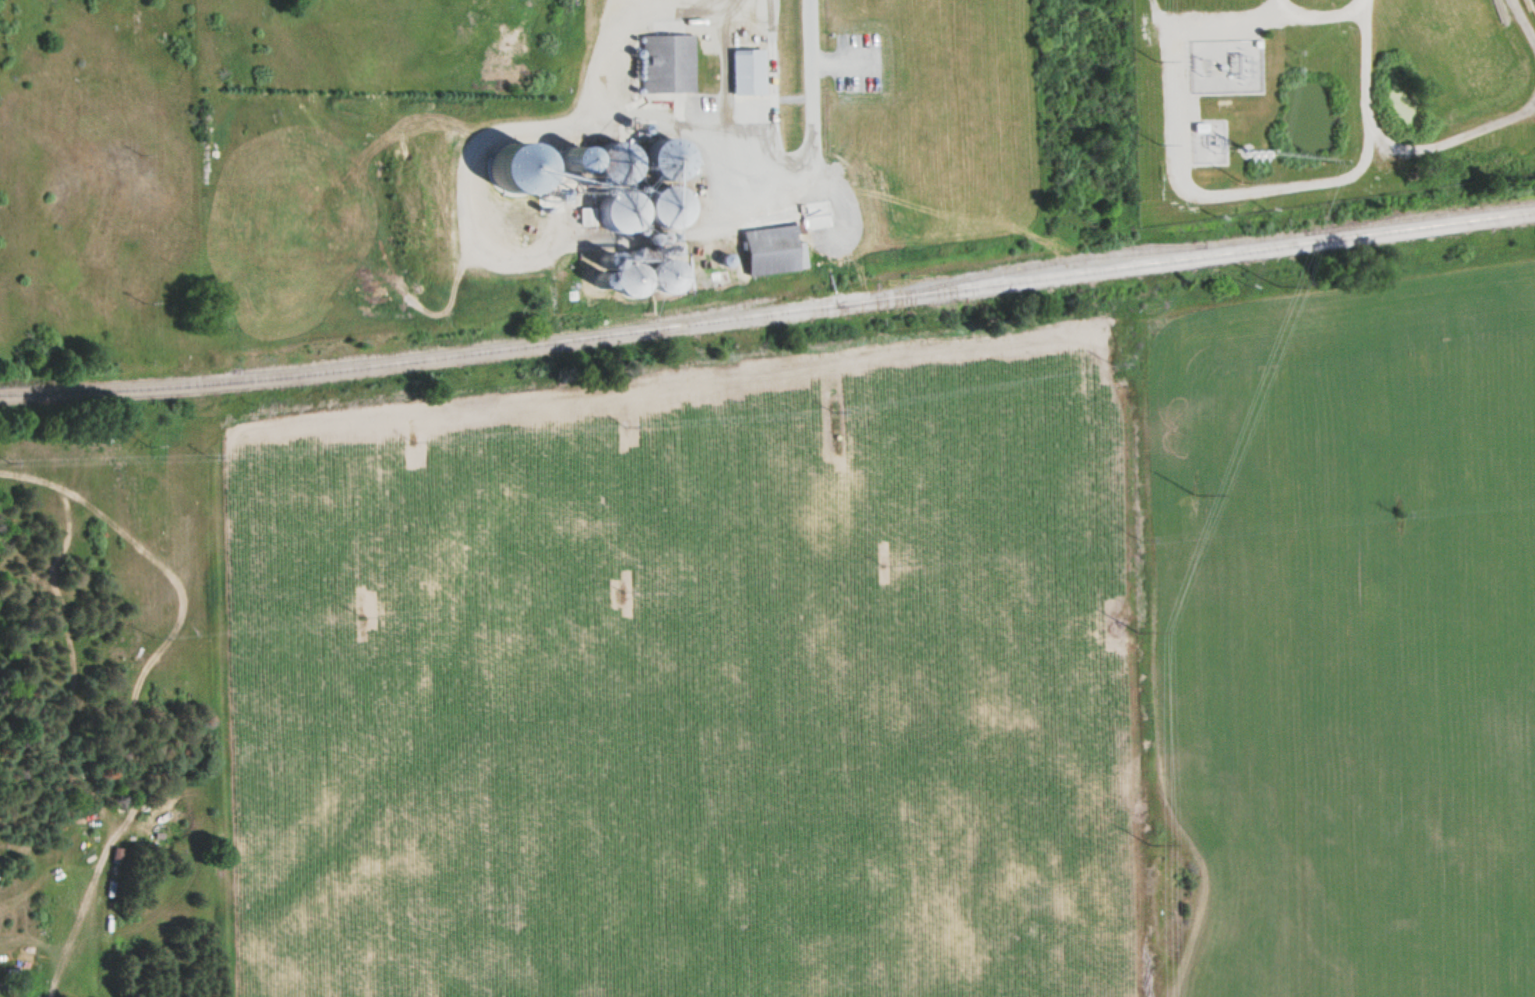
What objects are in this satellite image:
power substation: (1220, 58)
building: (668, 62)
building: (748, 70)
road: (811, 115)
power substation: (1204, 140)
building: (664, 158)
building: (619, 161)
building: (618, 209)
building: (774, 249)
railway: (1024, 265)
railway: (882, 273)
building: (667, 280)
railway: (768, 312)

